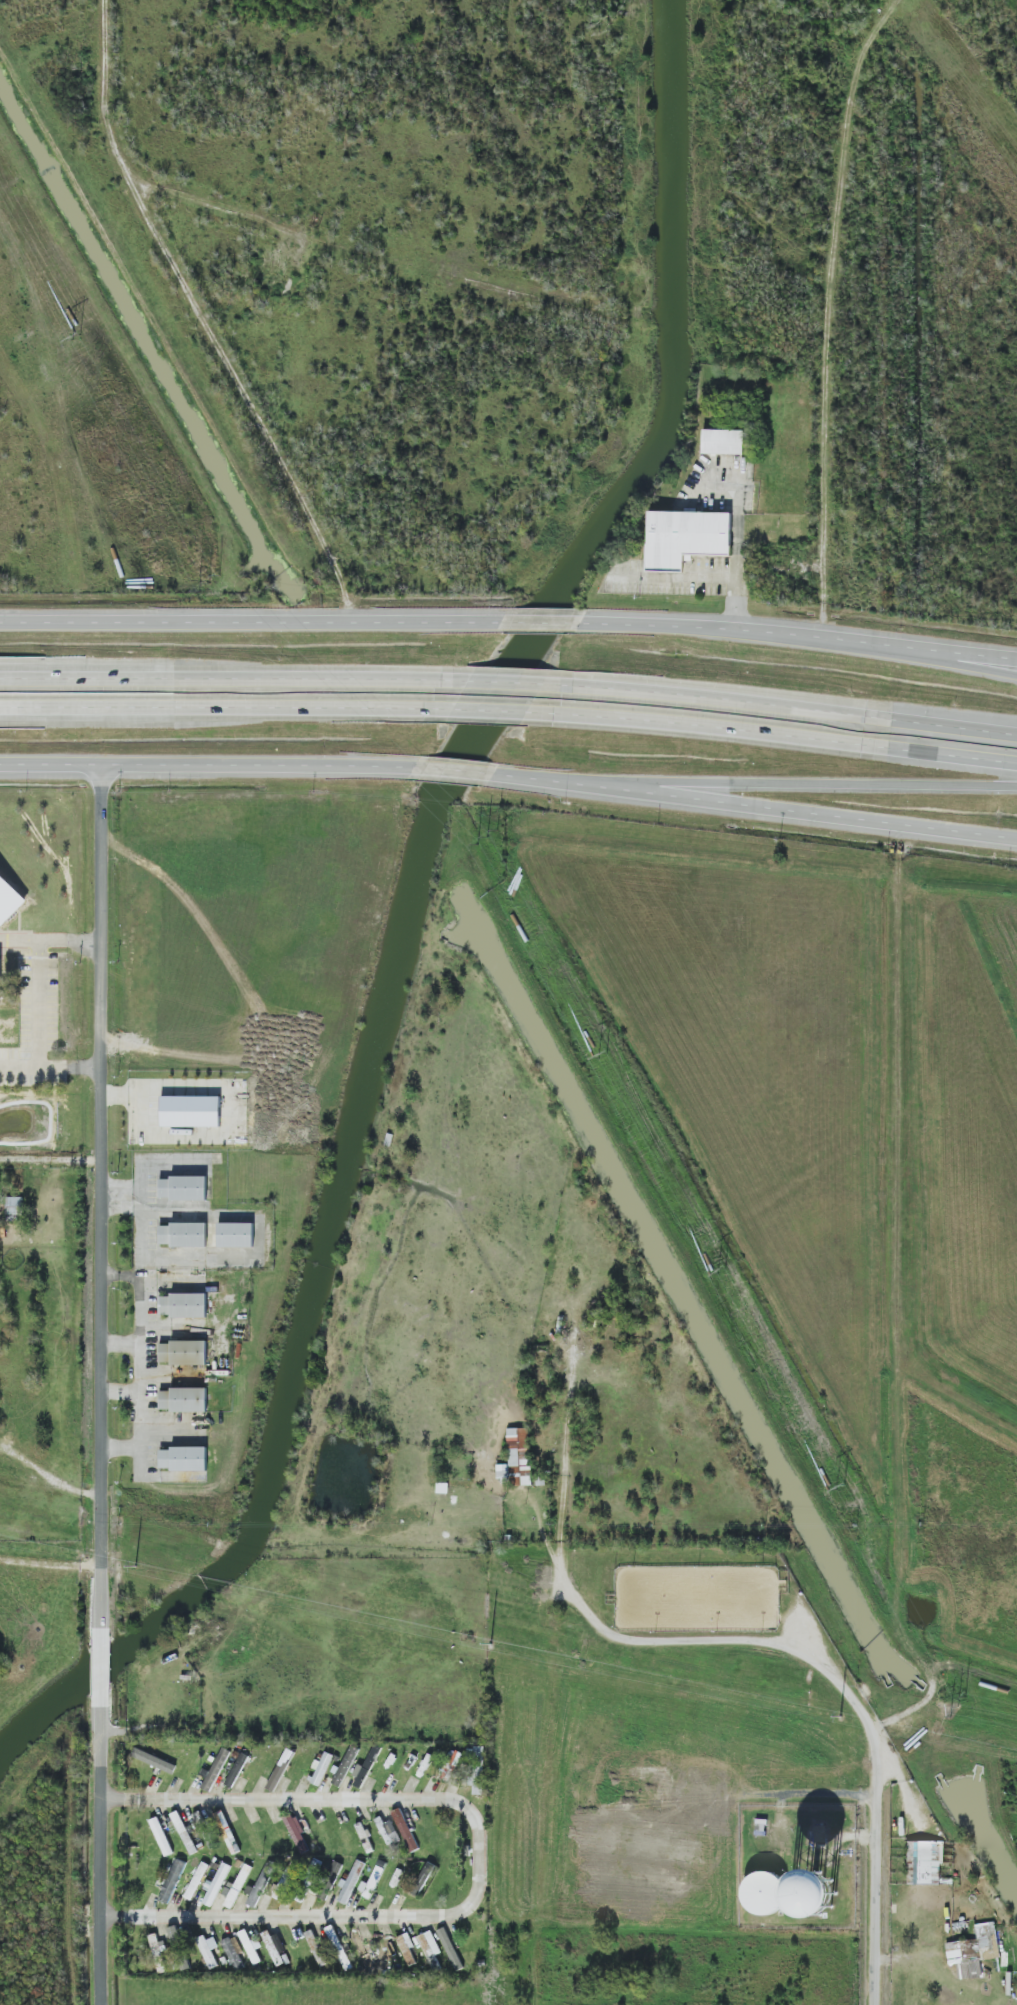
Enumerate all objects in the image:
power tower: (75, 340)
building: (723, 441)
road: (737, 515)
building: (686, 538)
road: (721, 577)
road: (252, 621)
road: (538, 621)
road: (747, 629)
road: (970, 651)
road: (970, 655)
road: (223, 681)
road: (498, 683)
road: (222, 707)
road: (783, 708)
road: (489, 709)
road: (775, 738)
road: (208, 768)
road: (451, 773)
road: (758, 786)
road: (751, 811)
building: (9, 900)
road: (3, 941)
road: (22, 941)
road: (71, 942)
building: (1, 983)
road: (37, 1002)
power tower: (604, 1056)
road: (20, 1065)
road: (71, 1066)
building: (191, 1111)
road: (53, 1154)
road: (898, 1163)
building: (183, 1188)
road: (108, 1196)
building: (15, 1206)
road: (180, 1216)
building: (183, 1235)
building: (235, 1235)
power tower: (722, 1274)
building: (183, 1305)
road: (123, 1345)
building: (183, 1352)
road: (138, 1361)
road: (123, 1393)
building: (183, 1400)
building: (517, 1457)
building: (183, 1458)
road: (54, 1467)
power tower: (840, 1488)
road: (54, 1562)
road: (710, 1640)
road: (109, 1660)
building: (154, 1760)
building: (219, 1764)
building: (346, 1766)
building: (365, 1768)
building: (321, 1769)
building: (237, 1770)
building: (477, 1781)
building: (199, 1818)
building: (405, 1830)
building: (388, 1832)
building: (184, 1833)
building: (298, 1834)
building: (821, 1834)
building: (161, 1836)
building: (365, 1837)
road: (107, 1850)
road: (481, 1860)
building: (924, 1863)
road: (876, 1873)
building: (421, 1878)
building: (329, 1879)
building: (374, 1879)
building: (172, 1881)
building: (197, 1881)
building: (351, 1881)
building: (283, 1884)
building: (216, 1885)
building: (261, 1886)
building: (764, 1893)
building: (813, 1894)
building: (250, 1947)
building: (275, 1947)
building: (316, 1948)
building: (407, 1949)
building: (430, 1949)
building: (209, 1950)
building: (973, 1951)
building: (234, 1952)

